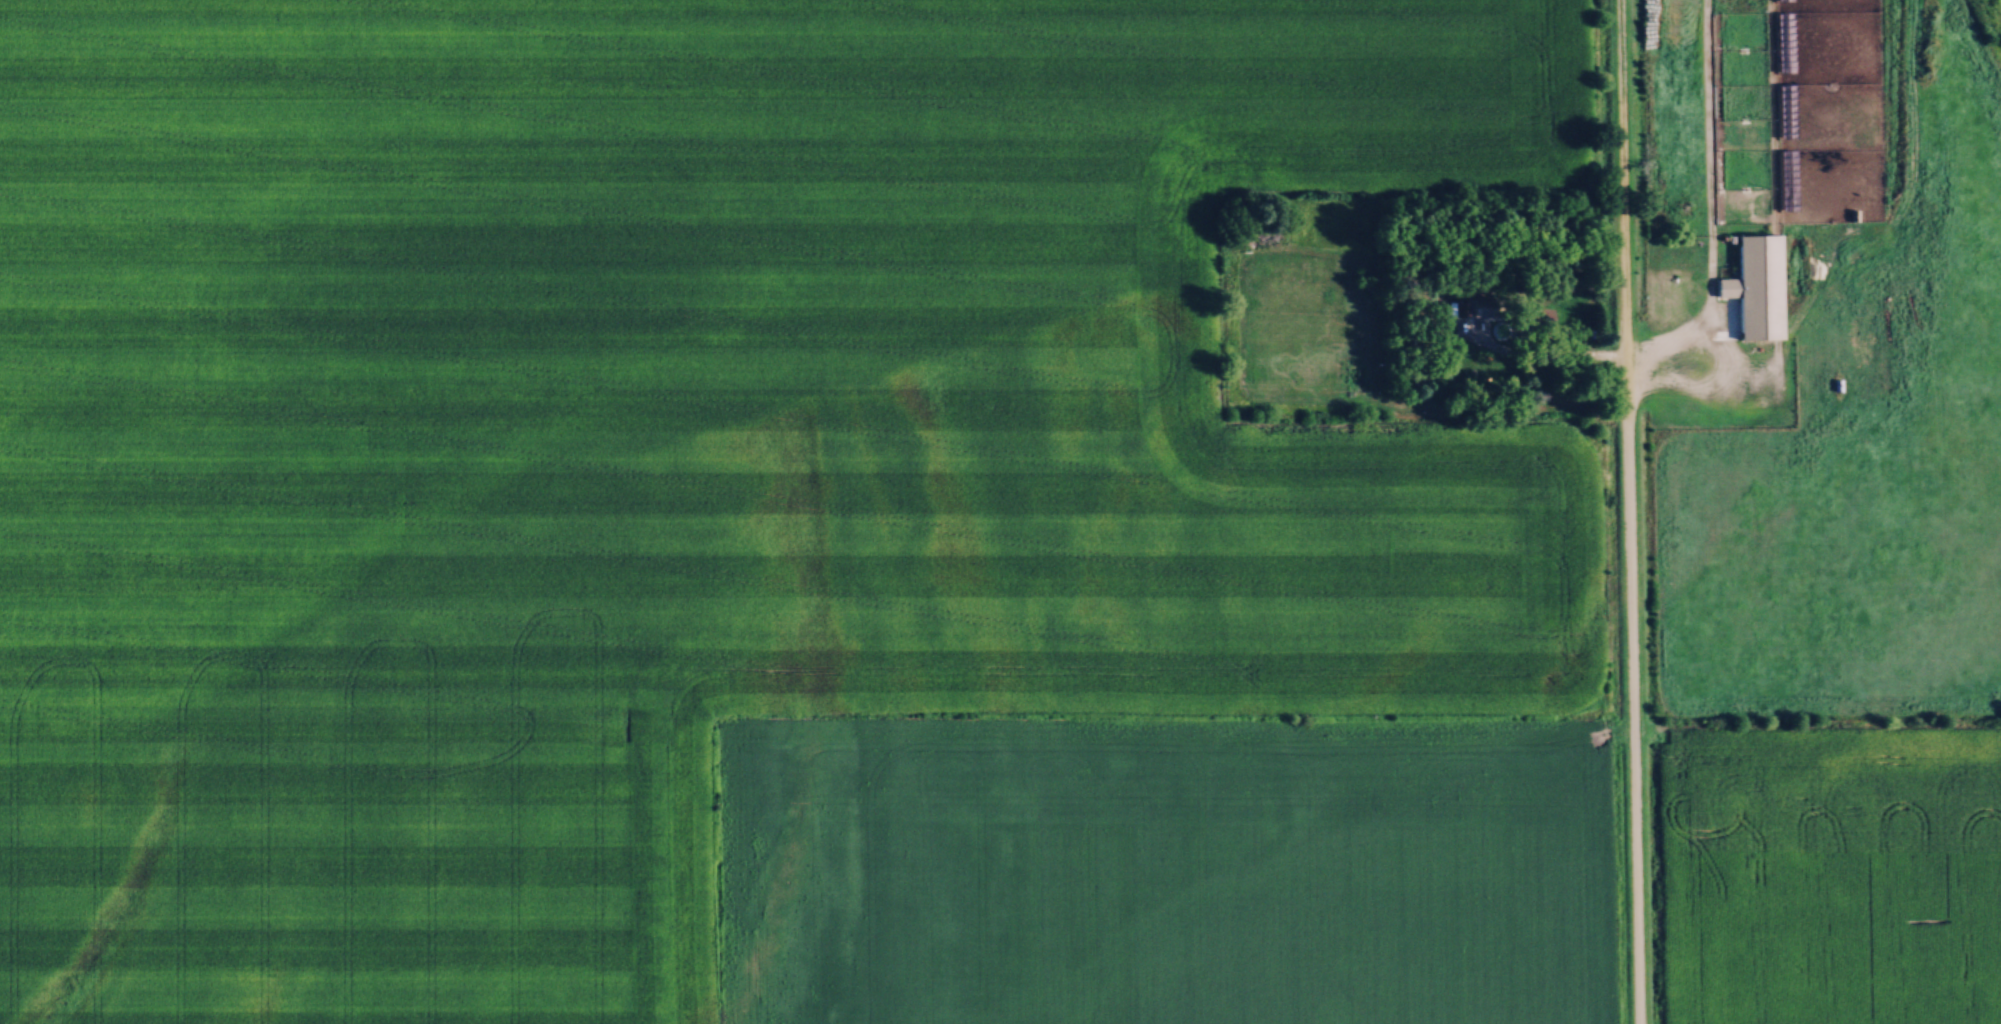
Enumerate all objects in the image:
building: (1786, 41)
building: (1787, 109)
building: (1788, 179)
building: (1757, 286)
building: (1482, 306)
road: (1617, 356)
road: (1627, 512)

